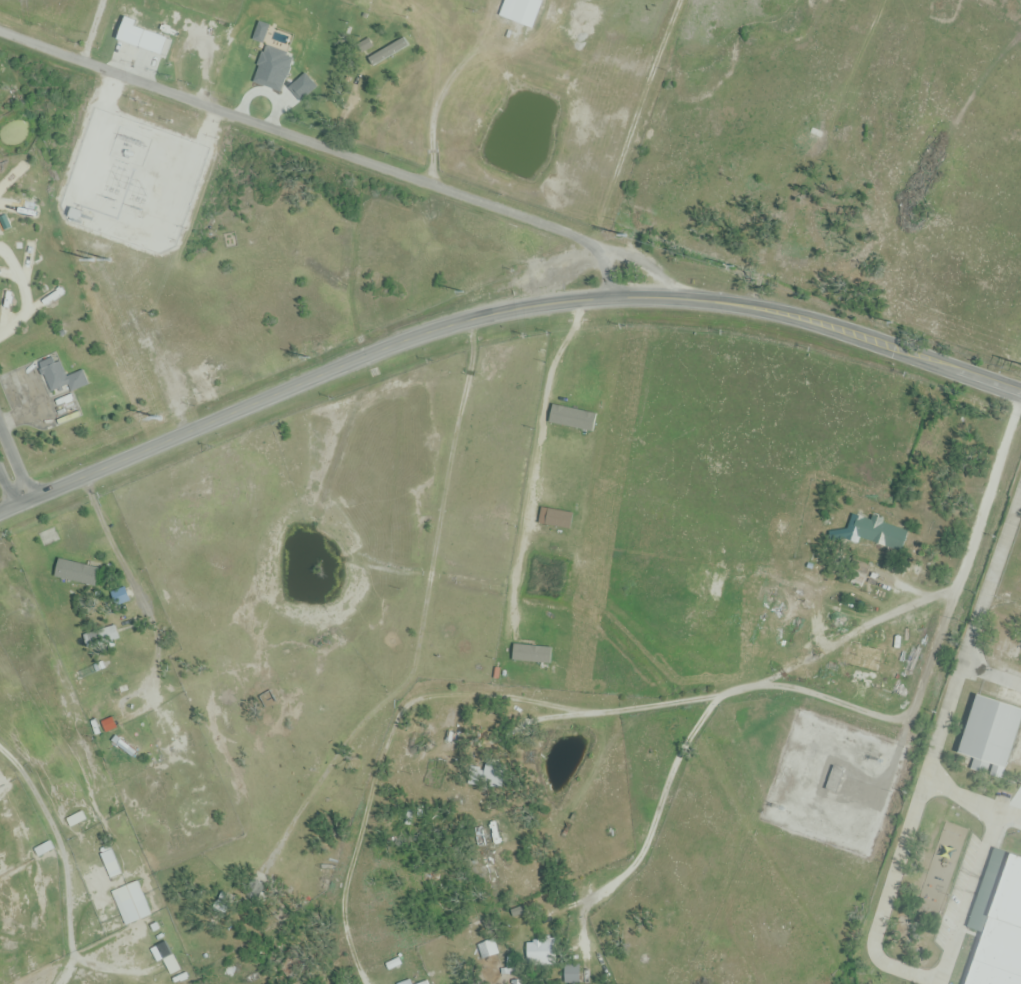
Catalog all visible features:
building: (519, 11)
building: (392, 54)
building: (280, 59)
building: (241, 76)
road: (322, 147)
power substation: (133, 182)
power tower: (112, 200)
power tower: (138, 209)
road: (860, 326)
road: (859, 338)
road: (352, 361)
building: (62, 380)
road: (14, 466)
road: (14, 505)
building: (851, 530)
building: (50, 536)
building: (77, 573)
building: (1006, 605)
road: (827, 646)
building: (1007, 652)
building: (988, 734)
road: (930, 756)
building: (833, 780)
road: (971, 801)
road: (653, 815)
building: (479, 839)
building: (43, 849)
building: (110, 864)
road: (969, 889)
building: (130, 903)
building: (161, 952)
building: (534, 952)

